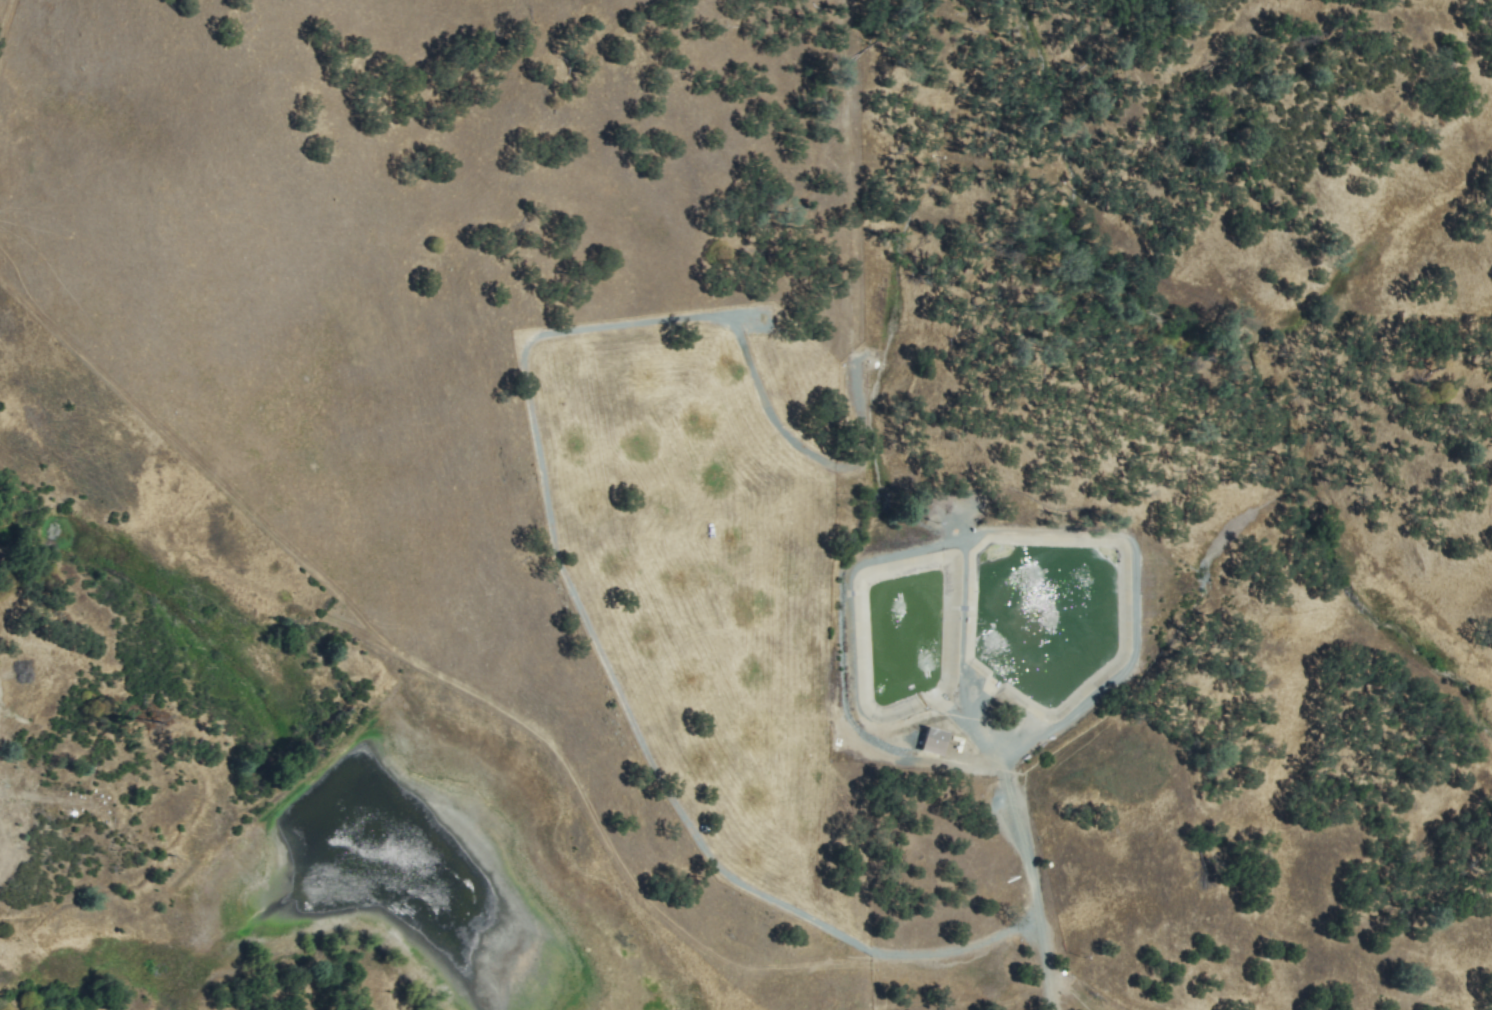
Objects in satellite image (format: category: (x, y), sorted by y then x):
building: (935, 740)
road: (1030, 882)

